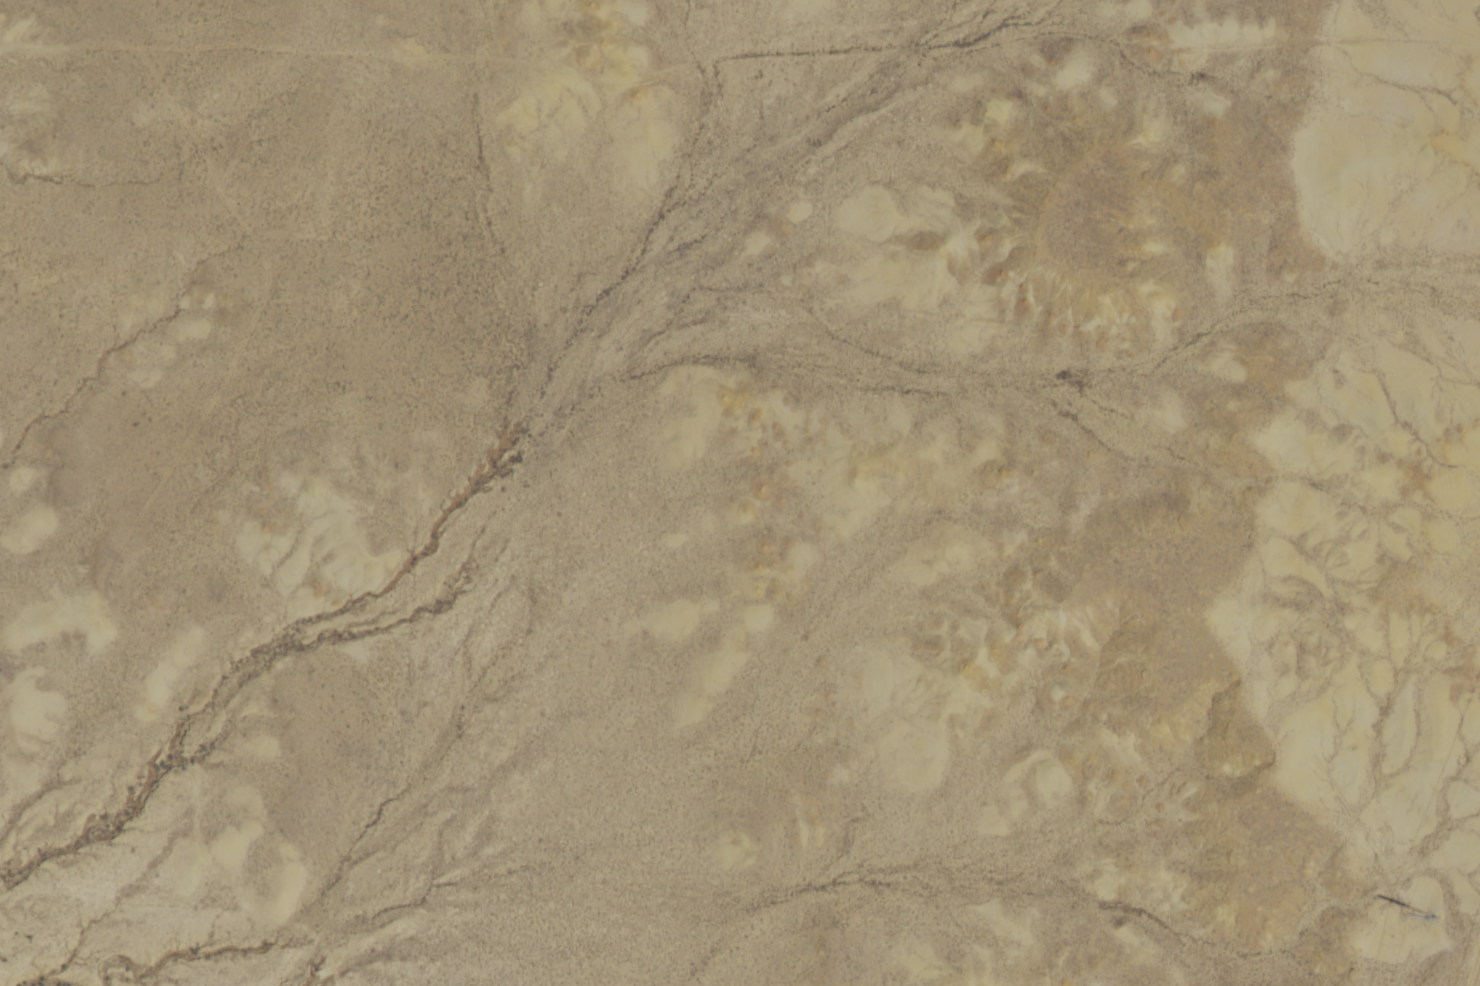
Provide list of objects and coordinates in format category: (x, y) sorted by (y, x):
power tower: (1437, 914)

